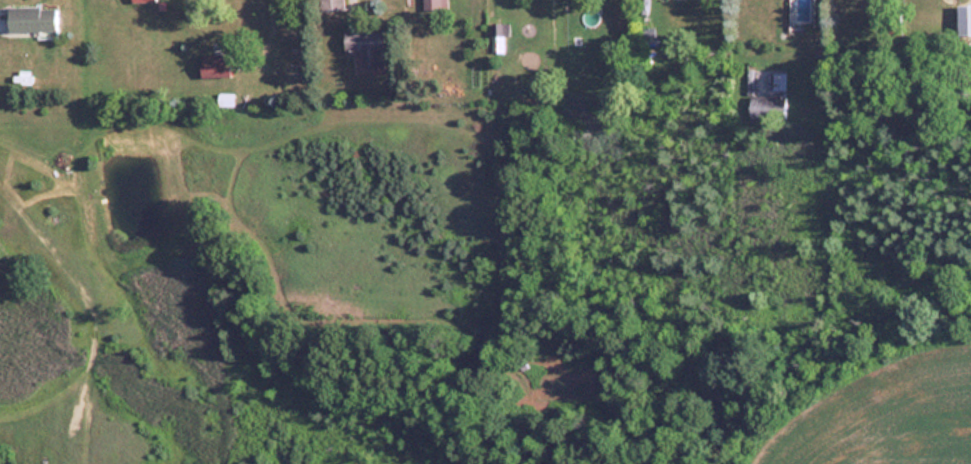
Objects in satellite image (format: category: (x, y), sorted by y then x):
building: (143, 1)
building: (334, 5)
building: (436, 5)
building: (35, 19)
building: (370, 47)
building: (217, 65)
building: (779, 83)
building: (769, 108)

